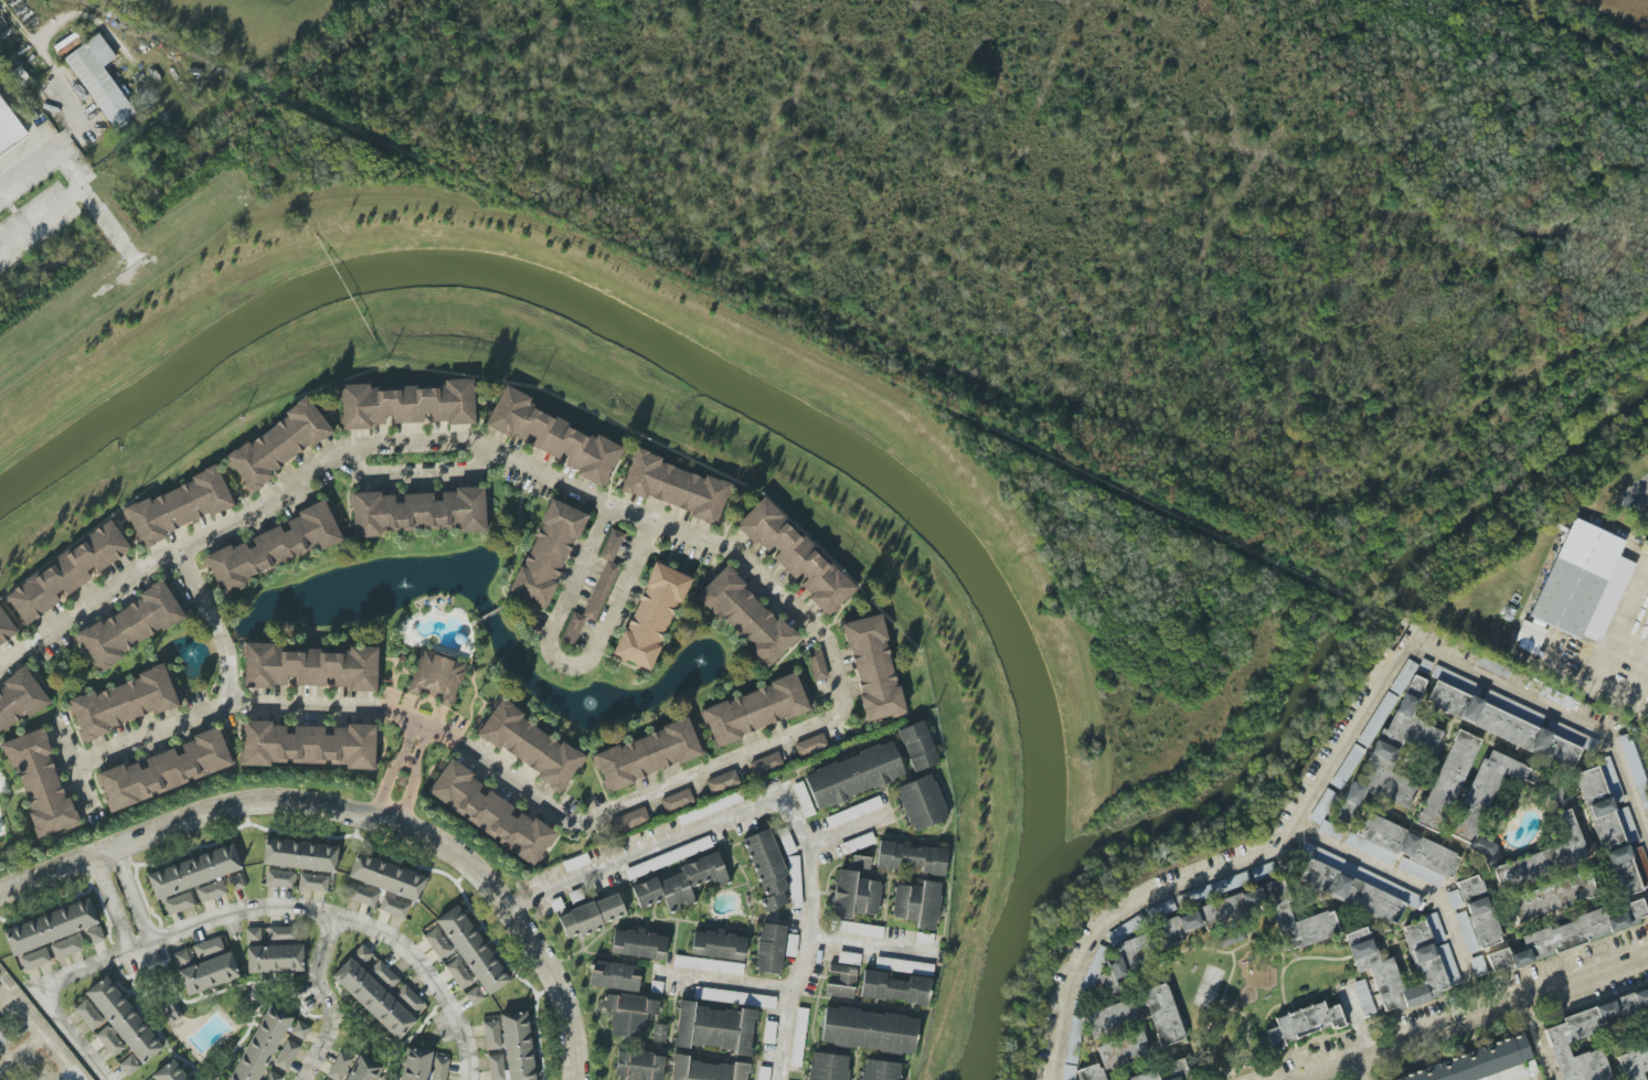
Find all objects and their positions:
building: (100, 81)
road: (67, 99)
building: (9, 130)
road: (40, 154)
road: (63, 202)
building: (406, 404)
building: (553, 437)
building: (278, 445)
road: (415, 475)
building: (673, 486)
road: (1637, 492)
building: (179, 506)
road: (1640, 509)
building: (418, 512)
road: (638, 514)
building: (273, 547)
building: (547, 553)
building: (797, 557)
building: (66, 574)
building: (596, 589)
building: (1567, 599)
theme park: (1569, 600)
building: (651, 616)
building: (746, 617)
road: (1617, 622)
building: (129, 627)
building: (6, 628)
building: (817, 664)
road: (564, 665)
building: (310, 667)
building: (873, 667)
building: (1492, 667)
building: (436, 677)
building: (1455, 681)
road: (1594, 687)
road: (228, 694)
building: (1556, 697)
building: (19, 701)
building: (125, 703)
building: (755, 710)
building: (1382, 710)
road: (421, 718)
building: (1510, 723)
road: (407, 728)
road: (152, 734)
road: (424, 735)
building: (308, 745)
building: (529, 745)
building: (810, 745)
building: (917, 746)
building: (1393, 747)
road: (1338, 753)
building: (647, 755)
building: (766, 763)
building: (1347, 766)
road: (74, 767)
building: (167, 769)
building: (853, 774)
road: (386, 778)
building: (722, 781)
building: (1447, 781)
building: (41, 784)
road: (410, 787)
building: (676, 800)
building: (802, 800)
building: (1484, 801)
building: (921, 803)
building: (1322, 806)
building: (710, 808)
building: (489, 812)
building: (853, 812)
road: (357, 814)
building: (629, 820)
building: (1610, 825)
road: (847, 828)
building: (1330, 830)
building: (786, 842)
building: (857, 843)
road: (645, 848)
building: (1546, 848)
building: (1404, 851)
building: (306, 855)
building: (669, 857)
building: (912, 857)
building: (860, 862)
building: (576, 863)
building: (1641, 865)
building: (767, 868)
building: (201, 873)
building: (280, 878)
building: (393, 878)
building: (795, 881)
building: (236, 883)
building: (312, 883)
building: (681, 884)
building: (1355, 886)
building: (1214, 888)
road: (1422, 888)
building: (211, 890)
building: (362, 895)
road: (136, 896)
building: (853, 896)
building: (1647, 896)
building: (1553, 897)
building: (179, 903)
building: (917, 903)
road: (111, 906)
building: (393, 907)
building: (1474, 915)
building: (591, 916)
building: (1209, 916)
building: (57, 927)
building: (859, 929)
building: (283, 933)
building: (1572, 934)
road: (808, 939)
building: (924, 939)
building: (437, 943)
building: (638, 943)
building: (717, 945)
building: (208, 947)
road: (872, 947)
road: (138, 948)
building: (769, 948)
building: (480, 951)
building: (1127, 951)
building: (1099, 953)
building: (362, 955)
building: (35, 959)
building: (181, 959)
building: (848, 959)
building: (284, 960)
building: (1434, 964)
building: (709, 965)
building: (1477, 965)
building: (904, 966)
building: (215, 974)
road: (430, 974)
building: (459, 974)
building: (384, 975)
building: (615, 976)
road: (726, 980)
building: (842, 982)
building: (1106, 983)
building: (895, 988)
building: (1362, 993)
building: (475, 996)
building: (733, 997)
road: (323, 999)
building: (383, 1003)
building: (171, 1013)
building: (628, 1014)
building: (89, 1015)
building: (1163, 1015)
building: (1110, 1018)
road: (1469, 1018)
road: (1360, 1019)
building: (134, 1022)
building: (1304, 1024)
building: (713, 1028)
building: (300, 1030)
building: (869, 1030)
road: (39, 1031)
building: (659, 1033)
building: (768, 1033)
building: (3, 1034)
building: (1562, 1034)
building: (799, 1037)
road: (1540, 1039)
building: (527, 1046)
building: (269, 1048)
road: (20, 1050)
building: (1123, 1050)
building: (1073, 1054)
building: (287, 1055)
road: (3, 1056)
building: (1485, 1063)
building: (1633, 1063)
building: (129, 1066)
building: (638, 1066)
building: (339, 1067)
building: (425, 1067)
building: (828, 1067)
road: (1358, 1069)
building: (371, 1070)
building: (705, 1070)
building: (881, 1070)
building: (177, 1073)
building: (764, 1073)
road: (62, 1074)
building: (274, 1076)
building: (1145, 1077)
building: (1174, 1078)

